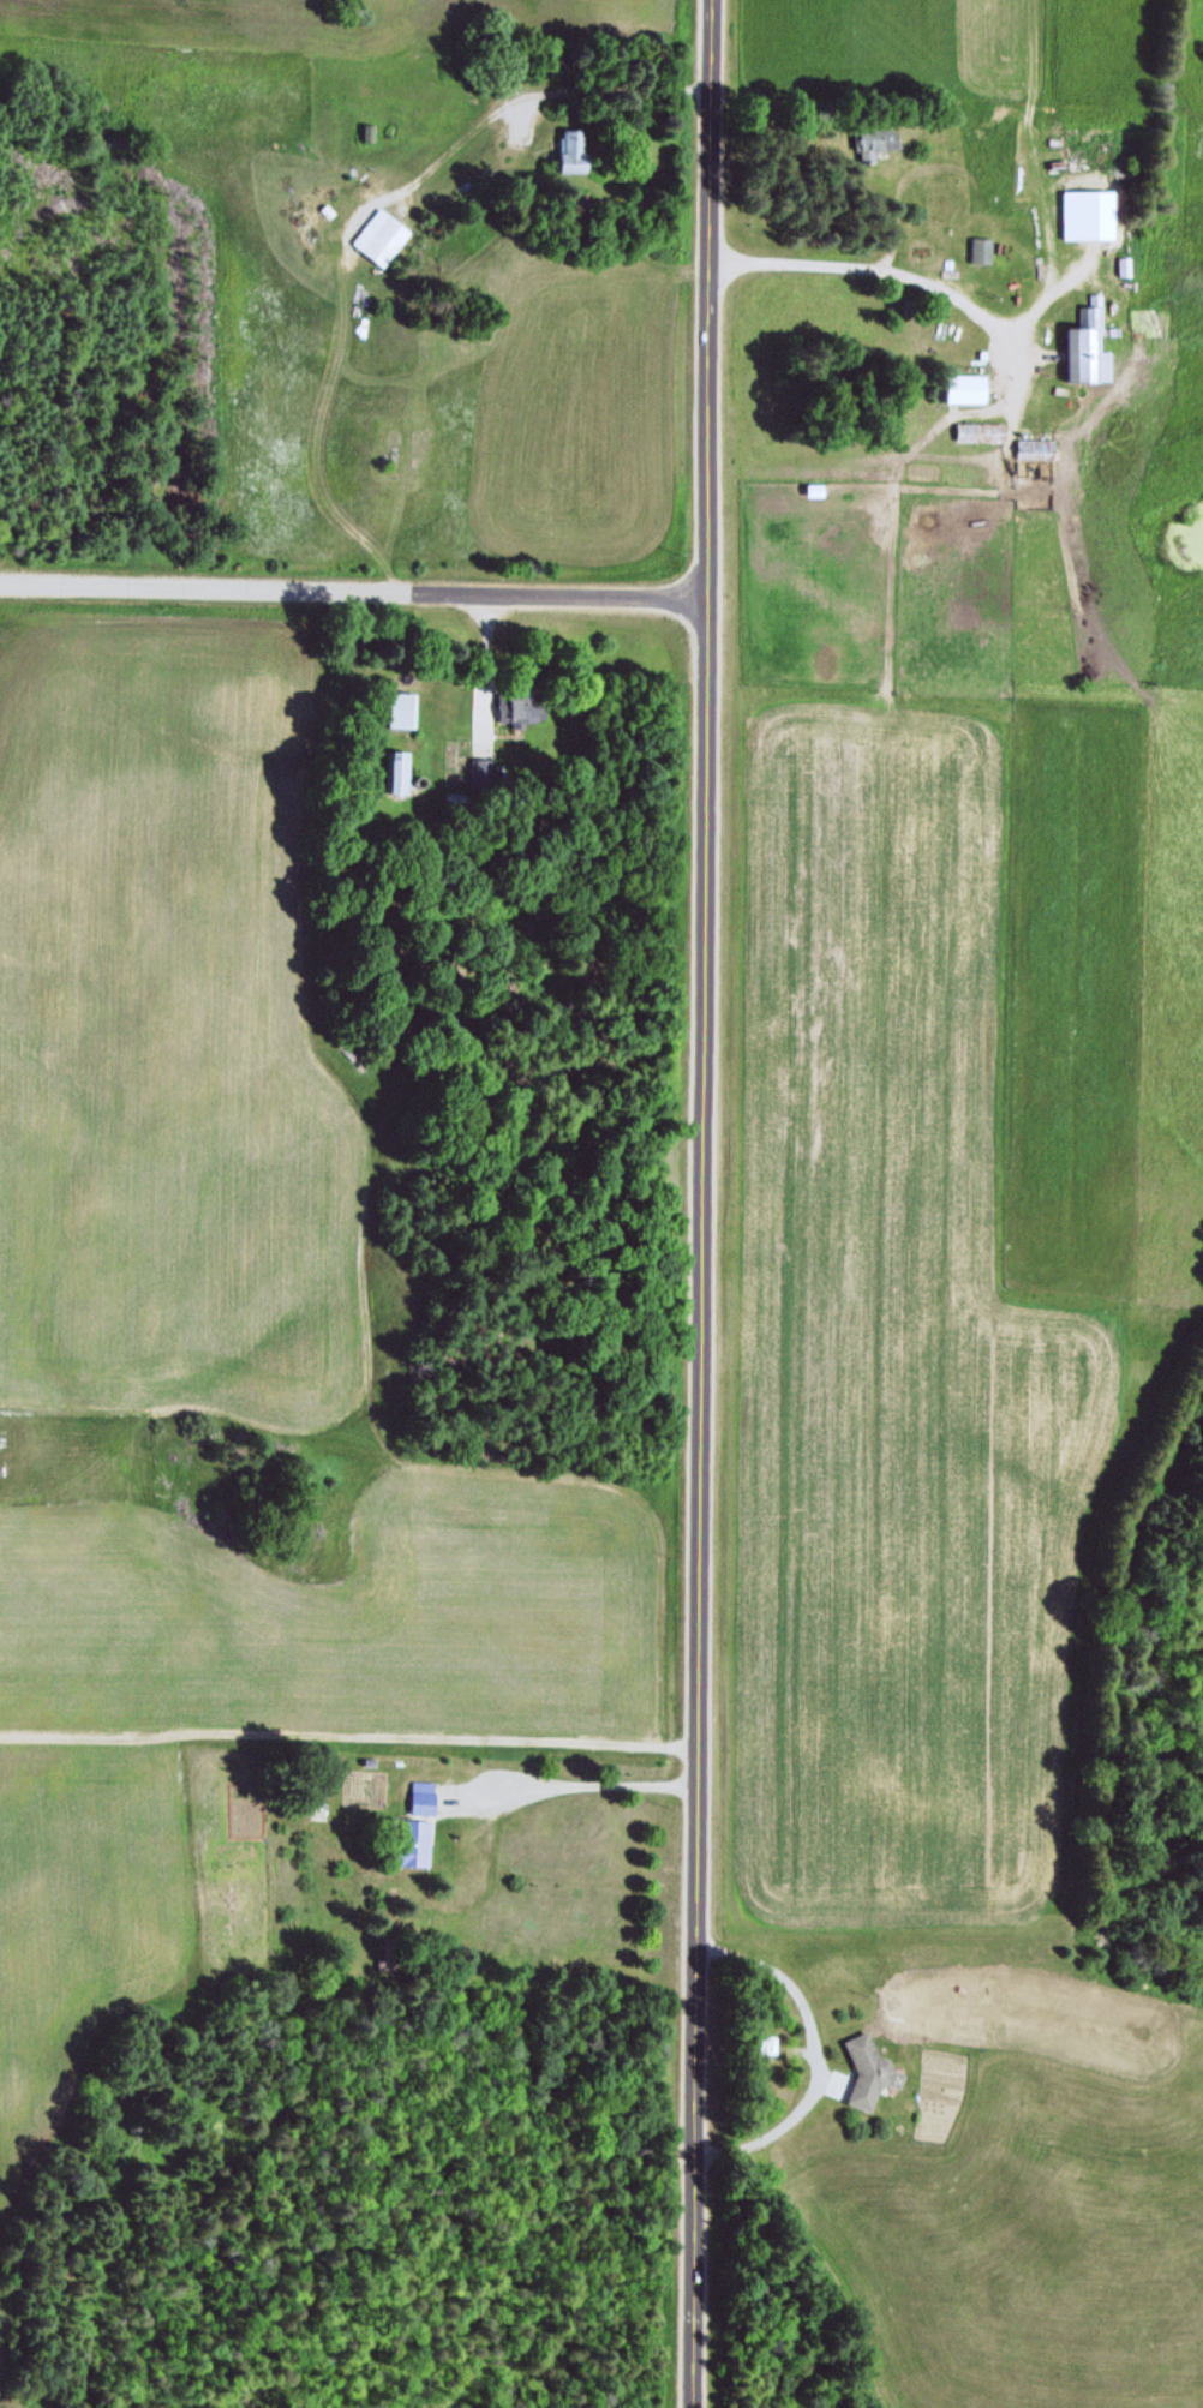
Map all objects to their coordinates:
road: (503, 106)
building: (868, 139)
building: (567, 152)
building: (1084, 210)
building: (373, 239)
building: (978, 246)
building: (1120, 263)
road: (903, 275)
road: (1046, 292)
building: (906, 303)
building: (1081, 337)
building: (981, 352)
building: (962, 383)
building: (975, 430)
building: (1031, 445)
building: (978, 447)
road: (351, 592)
road: (479, 672)
building: (513, 705)
building: (396, 707)
building: (477, 768)
building: (393, 769)
building: (450, 797)
road: (695, 1204)
road: (345, 1737)
road: (516, 1777)
building: (418, 1795)
building: (406, 1843)
road: (809, 2053)
building: (868, 2068)

